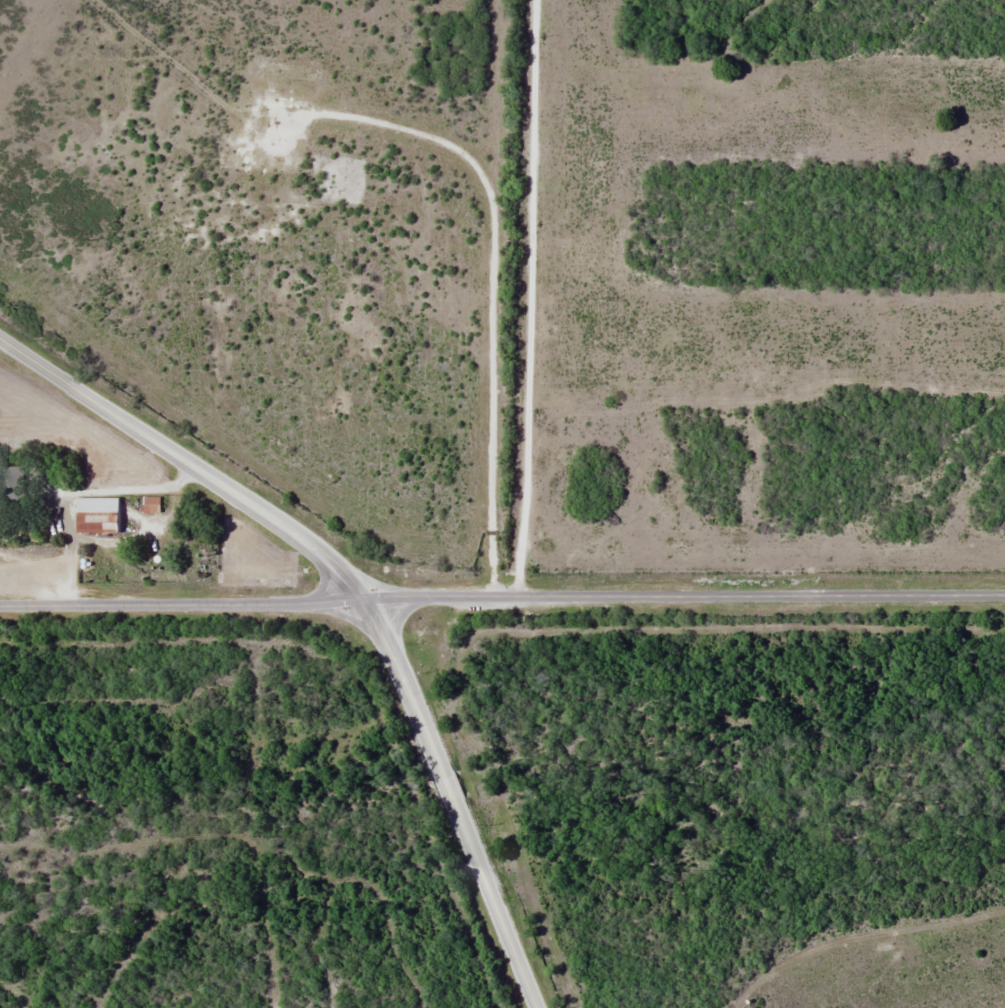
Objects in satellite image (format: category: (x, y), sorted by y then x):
road: (528, 298)
building: (13, 478)
building: (154, 503)
building: (102, 514)
road: (269, 515)
road: (323, 581)
road: (380, 585)
road: (502, 596)
road: (399, 614)
road: (346, 616)
road: (447, 788)
road: (494, 904)

